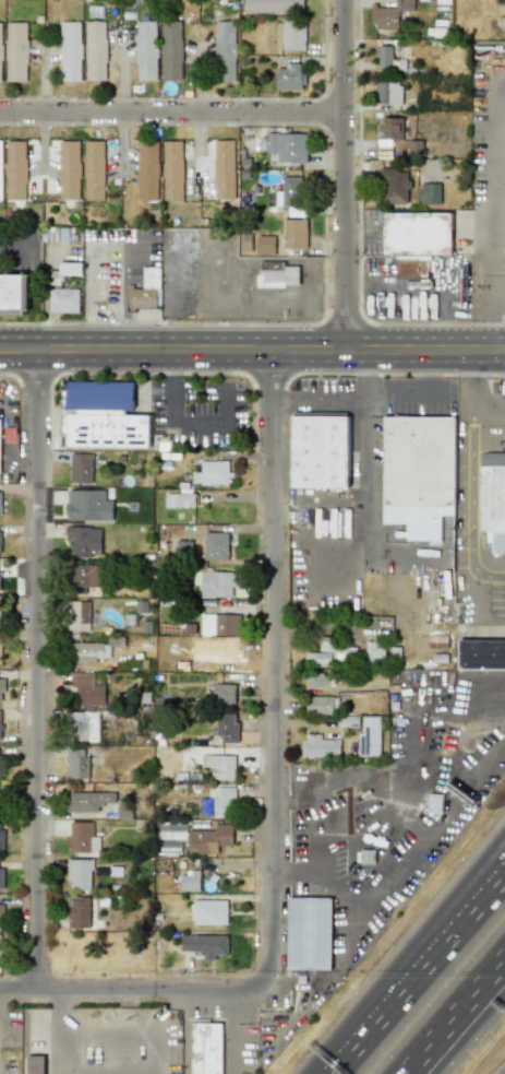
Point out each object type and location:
building: (274, 7)
building: (389, 14)
building: (291, 34)
building: (70, 50)
building: (96, 50)
building: (145, 50)
building: (171, 50)
building: (225, 50)
building: (14, 51)
building: (387, 58)
building: (0, 61)
building: (291, 76)
building: (389, 92)
road: (171, 113)
building: (392, 128)
building: (288, 146)
building: (413, 147)
building: (225, 168)
building: (1, 169)
building: (81, 170)
building: (147, 170)
building: (172, 170)
building: (15, 172)
road: (344, 174)
building: (394, 185)
building: (286, 192)
building: (428, 192)
building: (61, 235)
building: (294, 236)
building: (418, 239)
building: (265, 244)
road: (16, 247)
building: (279, 274)
road: (122, 283)
building: (64, 290)
building: (146, 291)
road: (492, 293)
building: (14, 294)
road: (89, 296)
road: (220, 347)
road: (498, 350)
road: (455, 351)
road: (480, 351)
road: (498, 352)
road: (378, 396)
road: (468, 396)
road: (1, 408)
building: (101, 416)
road: (177, 426)
building: (0, 446)
building: (320, 452)
building: (81, 465)
building: (214, 473)
building: (421, 473)
road: (472, 482)
road: (363, 492)
building: (492, 497)
building: (181, 499)
building: (0, 503)
building: (83, 541)
building: (216, 545)
road: (490, 558)
building: (80, 578)
building: (217, 582)
road: (476, 595)
building: (0, 613)
building: (80, 615)
building: (221, 624)
road: (492, 634)
building: (0, 650)
building: (375, 651)
building: (89, 652)
building: (329, 653)
building: (482, 654)
road: (37, 666)
road: (273, 668)
building: (317, 680)
building: (2, 686)
building: (87, 688)
building: (224, 693)
building: (318, 705)
building: (349, 721)
building: (0, 723)
building: (85, 725)
building: (227, 727)
building: (369, 736)
building: (321, 746)
building: (2, 760)
building: (77, 764)
building: (220, 765)
building: (0, 786)
building: (0, 800)
building: (88, 800)
building: (224, 801)
building: (434, 803)
building: (172, 833)
building: (1, 836)
building: (82, 837)
building: (208, 839)
building: (2, 873)
building: (82, 874)
building: (190, 880)
building: (1, 910)
building: (209, 910)
building: (80, 912)
road: (452, 912)
road: (453, 928)
building: (309, 933)
building: (206, 945)
building: (0, 956)
road: (135, 987)
road: (473, 994)
road: (473, 1002)
road: (363, 1029)
building: (206, 1048)
road: (424, 1052)
road: (111, 1063)
building: (33, 1064)
road: (167, 1067)

